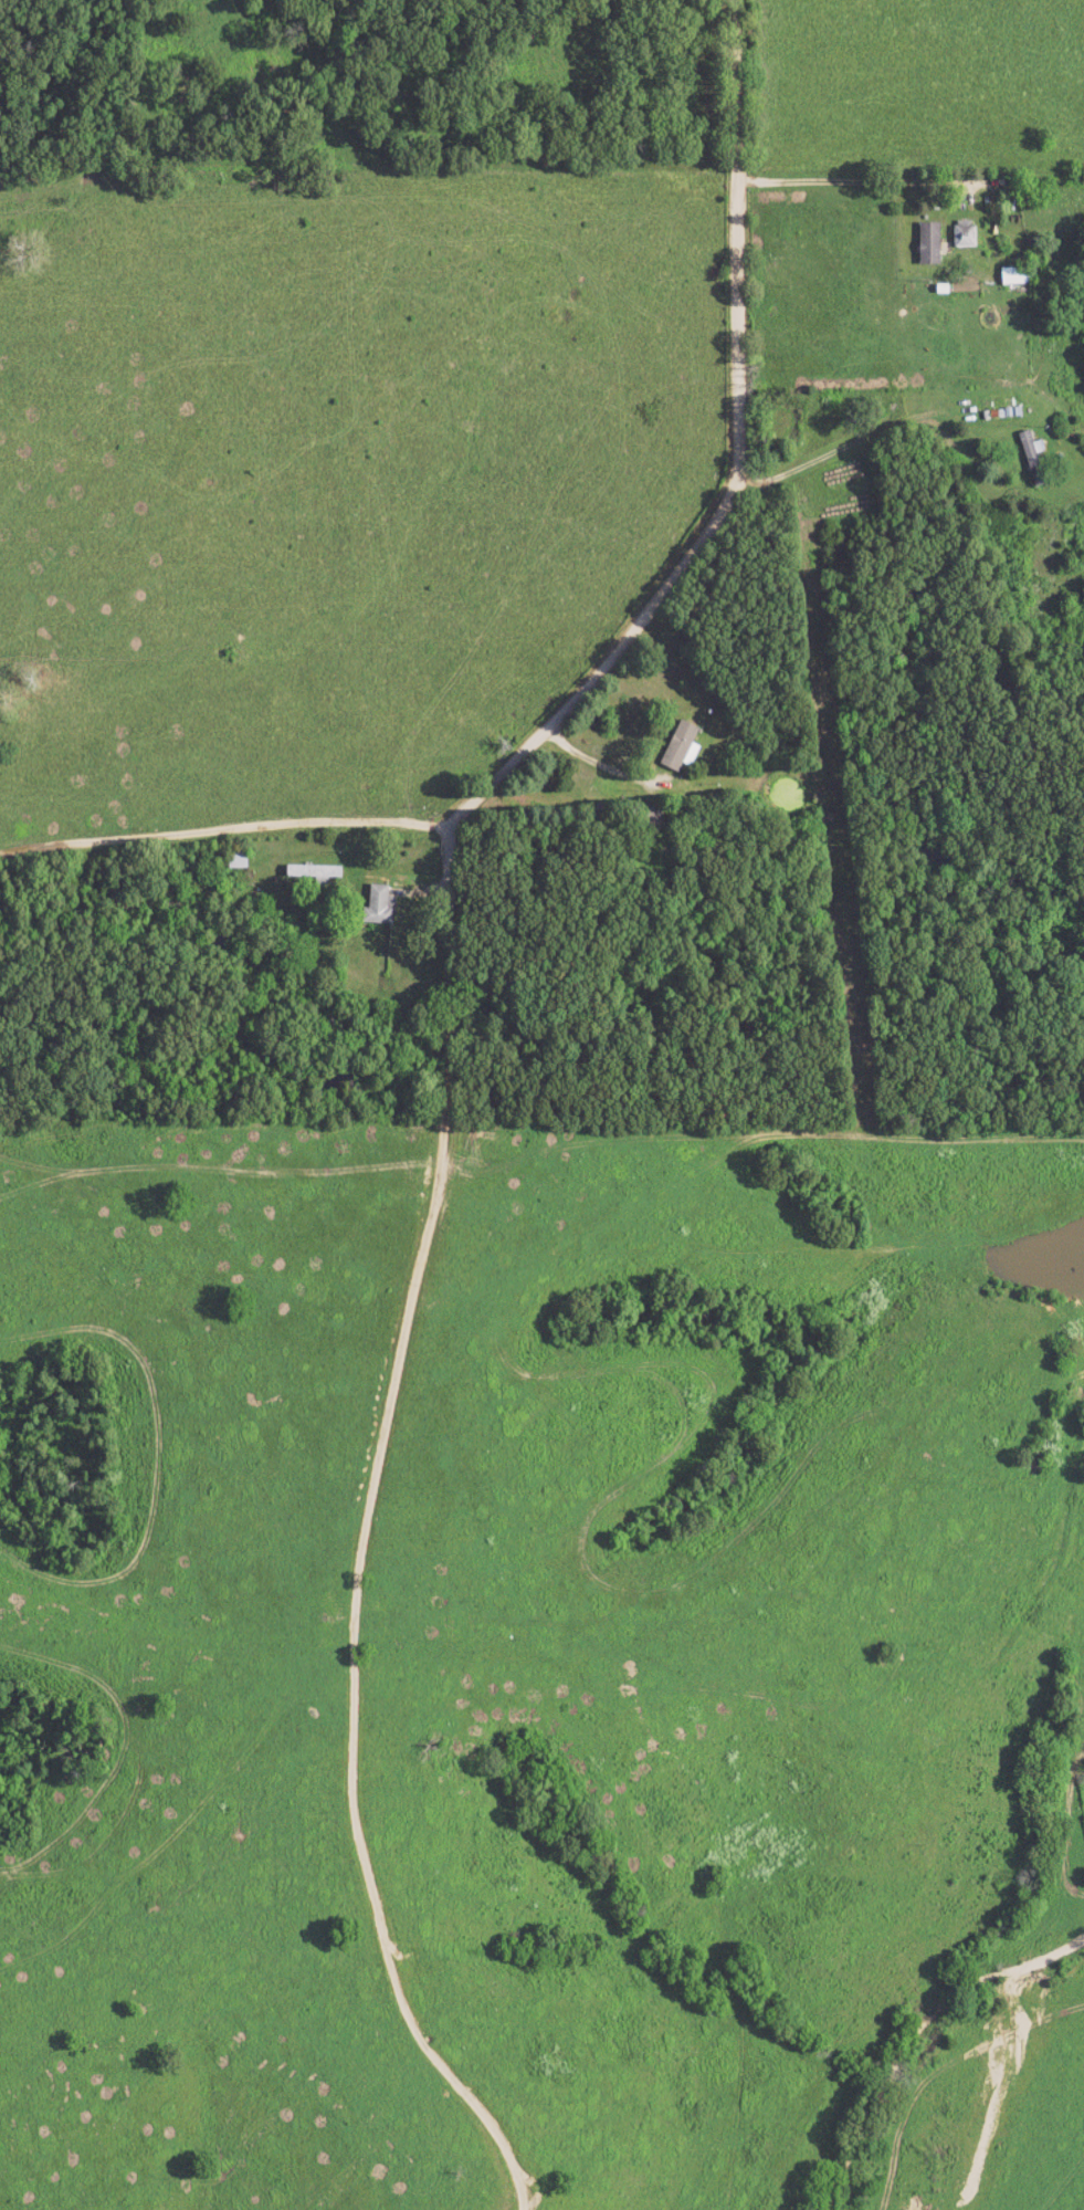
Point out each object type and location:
road: (871, 180)
building: (965, 235)
building: (929, 244)
building: (1031, 449)
road: (827, 455)
road: (614, 652)
building: (677, 745)
road: (602, 761)
building: (314, 873)
building: (378, 907)
road: (369, 1536)

